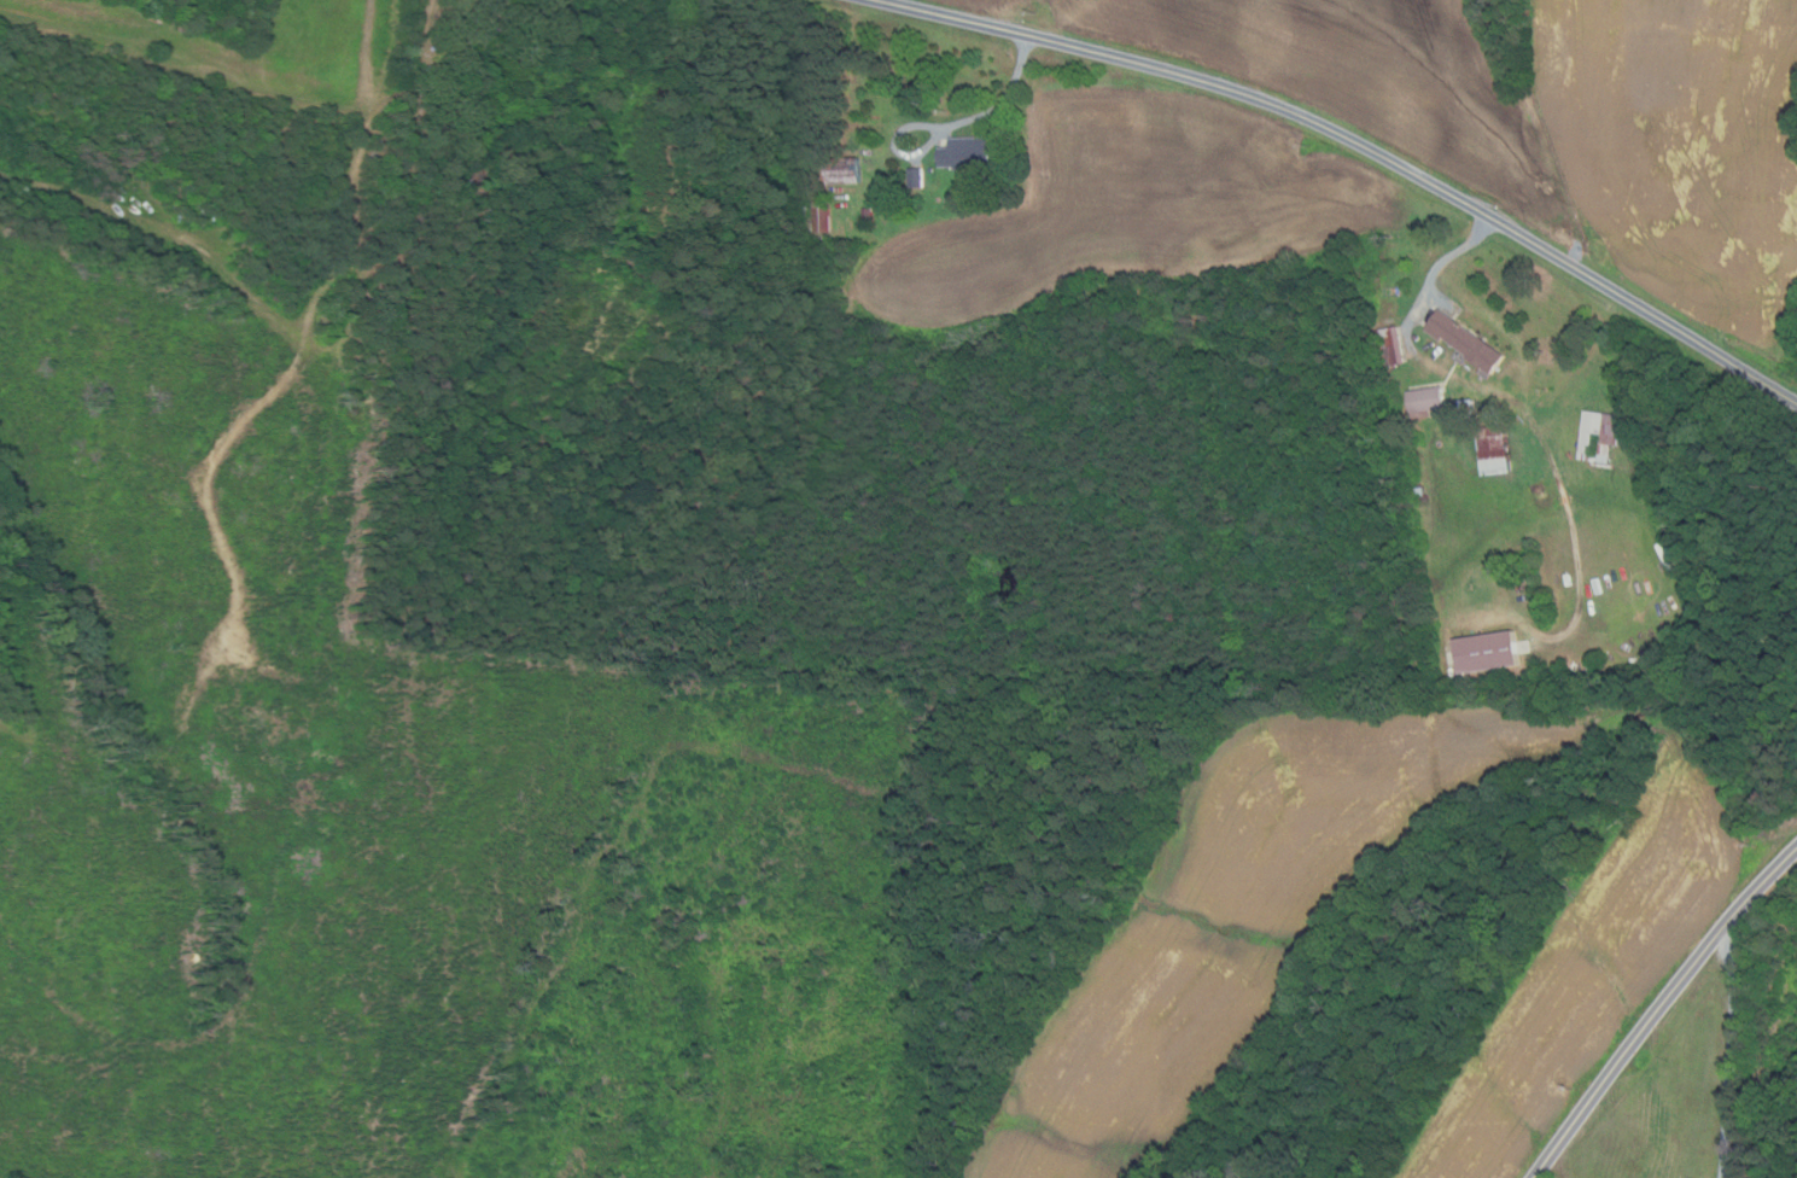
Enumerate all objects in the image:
building: (489, 8)
crop: (1352, 76)
building: (474, 89)
building: (460, 107)
road: (953, 124)
road: (1359, 142)
building: (530, 144)
crop: (1679, 148)
building: (969, 156)
building: (847, 171)
building: (917, 179)
building: (469, 182)
building: (888, 205)
building: (869, 215)
building: (822, 216)
road: (1434, 273)
building: (514, 294)
building: (1468, 342)
building: (1391, 346)
building: (1430, 400)
building: (1468, 408)
building: (1605, 436)
building: (1495, 450)
building: (1422, 492)
building: (1492, 653)
road: (1659, 1010)
road: (1740, 1052)

